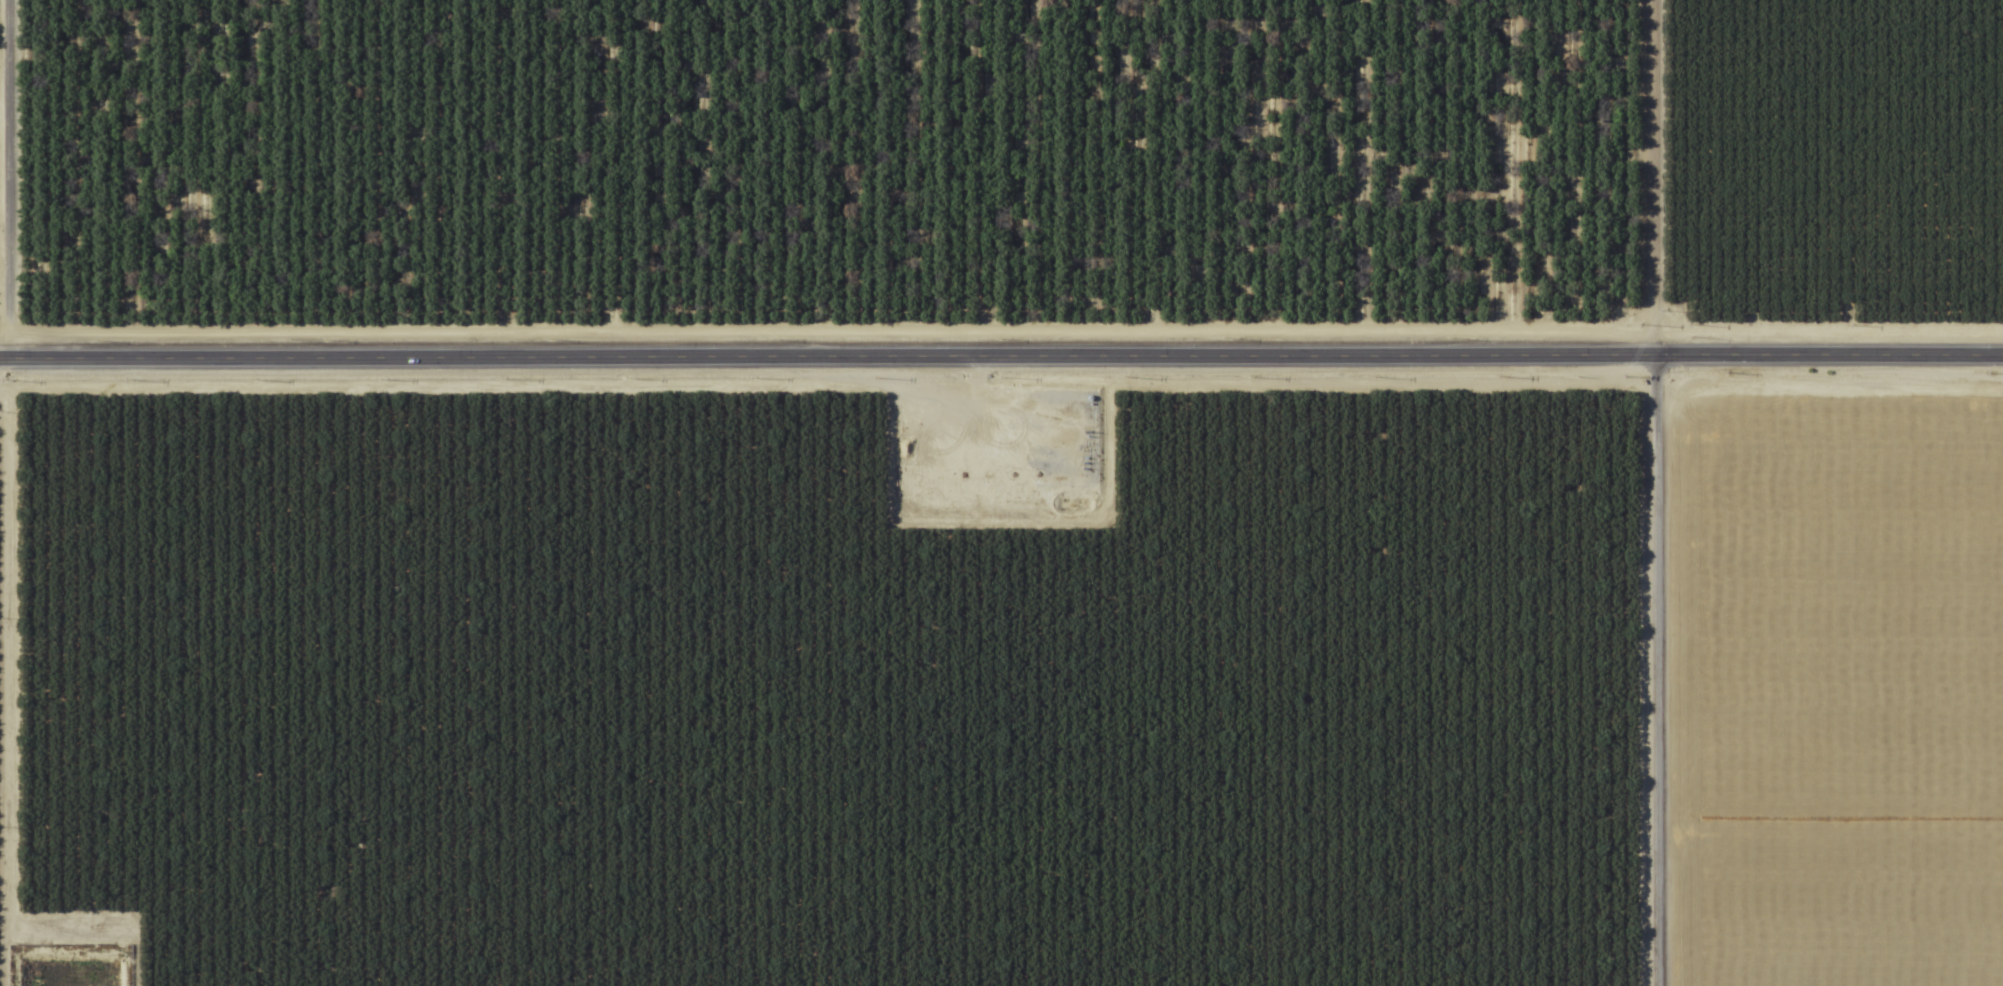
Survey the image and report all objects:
road: (1001, 359)
road: (22, 492)
road: (1638, 492)
crop: (1001, 493)

